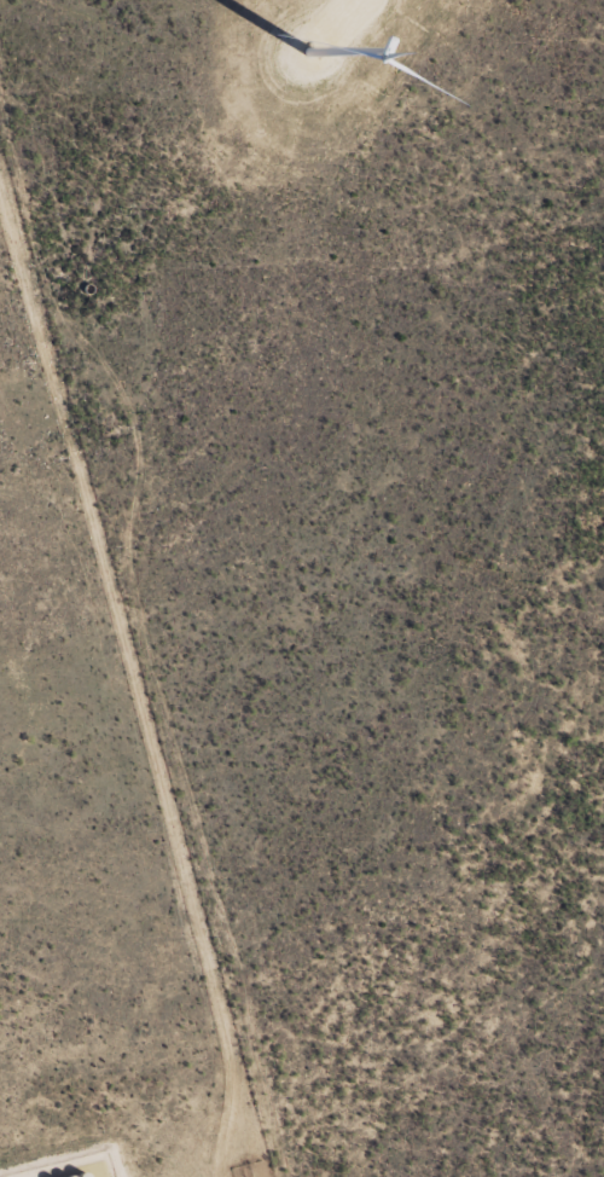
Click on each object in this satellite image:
wind turbine: (307, 50)

